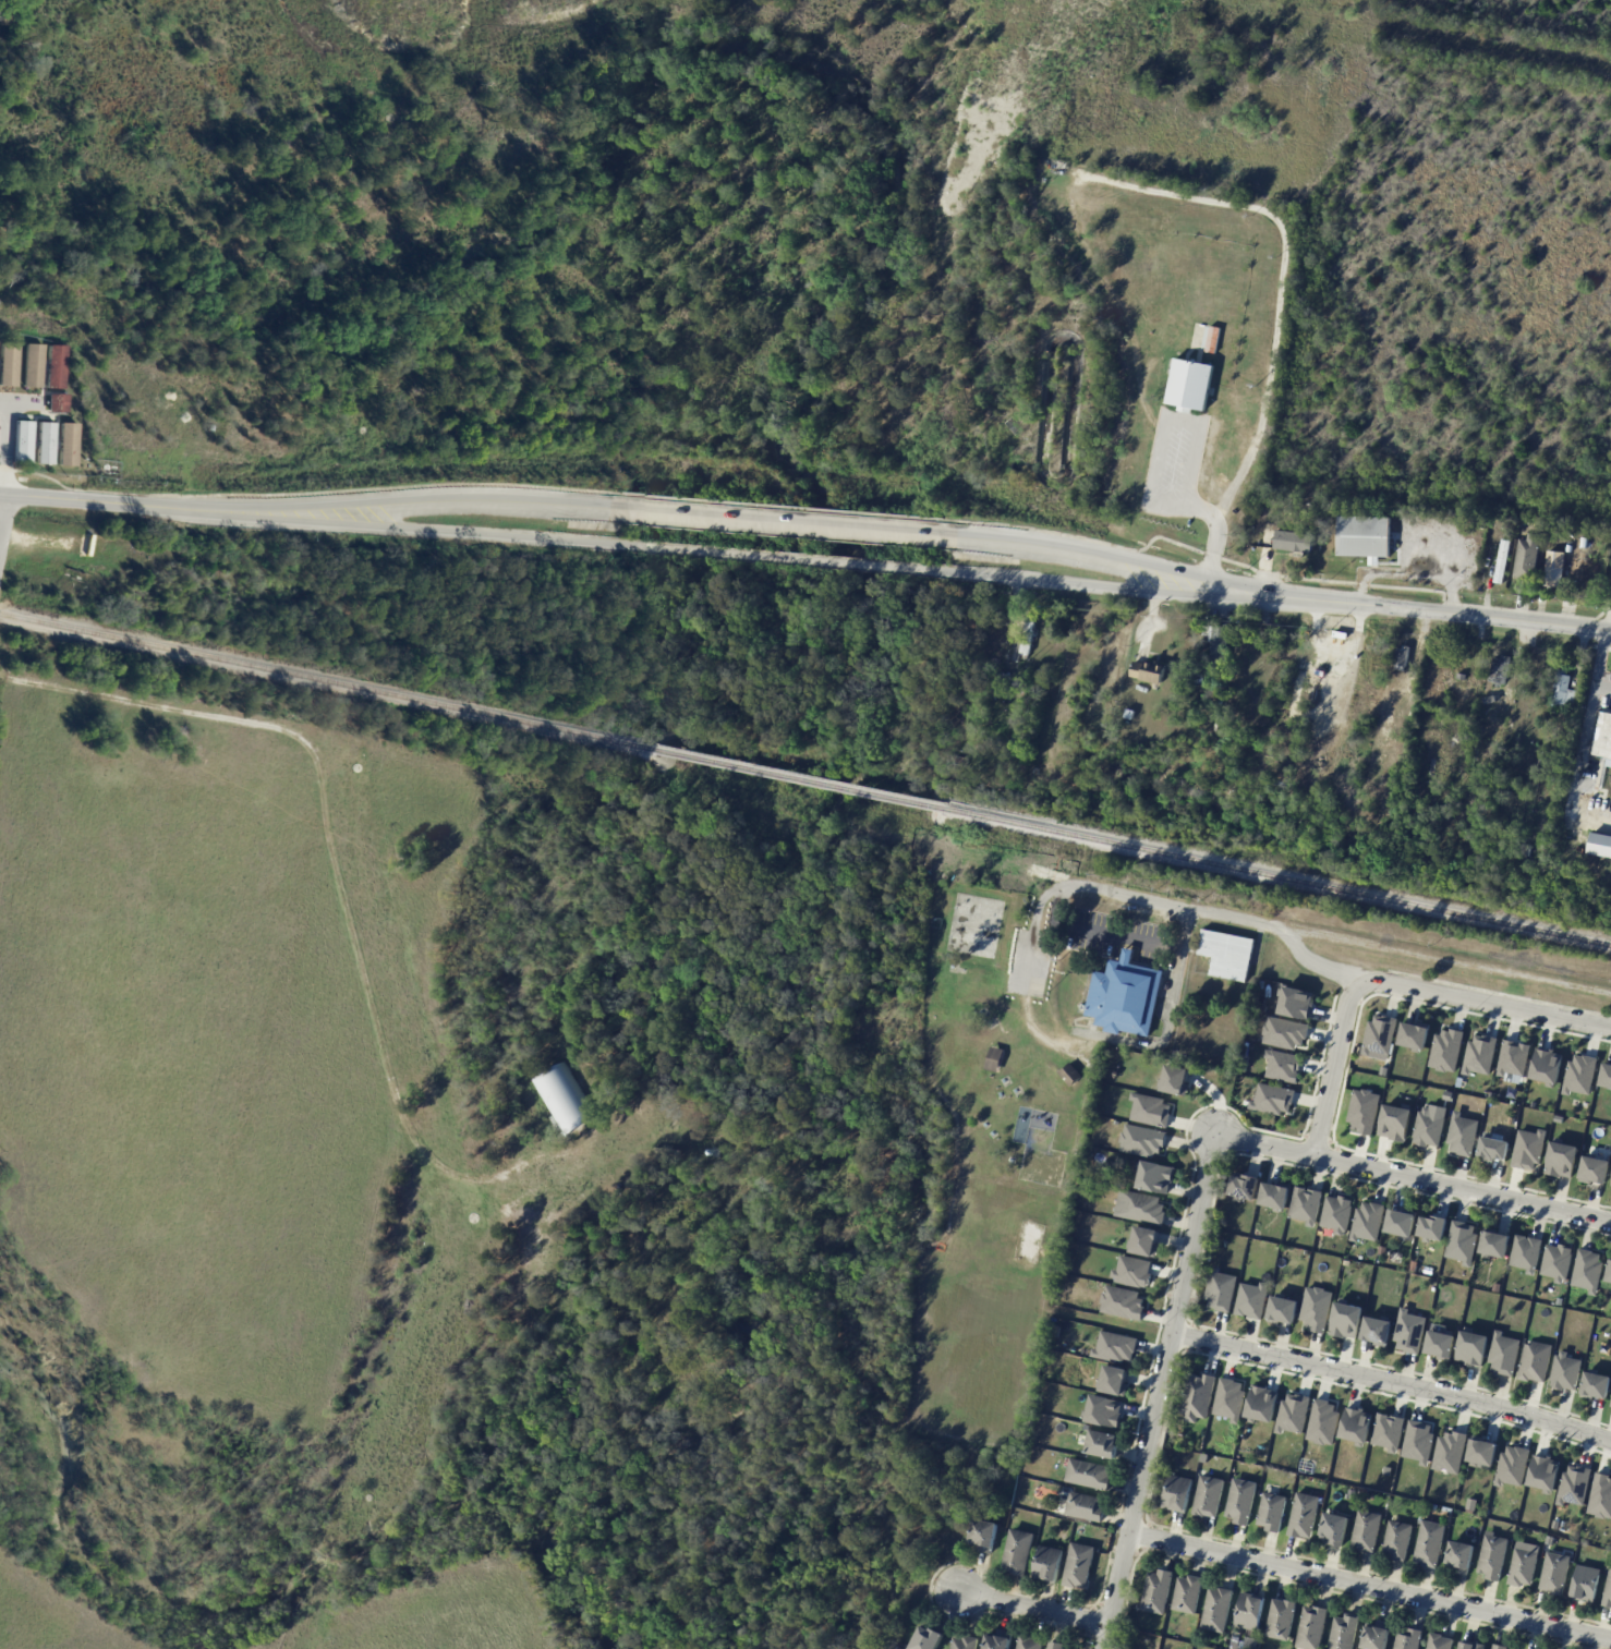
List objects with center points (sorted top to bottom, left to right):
building: (1202, 21)
road: (1481, 40)
building: (1140, 84)
road: (1180, 192)
building: (8, 364)
building: (31, 365)
building: (54, 366)
building: (1188, 384)
building: (57, 402)
building: (1029, 417)
parking lot: (10, 427)
building: (22, 441)
building: (44, 442)
building: (66, 444)
road: (50, 498)
road: (1195, 504)
road: (356, 505)
building: (1292, 506)
building: (1301, 508)
road: (359, 524)
road: (782, 524)
road: (7, 532)
building: (1368, 537)
building: (1296, 543)
building: (1583, 543)
building: (1567, 548)
road: (1070, 554)
building: (1526, 558)
road: (776, 560)
building: (1501, 561)
building: (1551, 569)
road: (1062, 579)
road: (1398, 604)
building: (1030, 636)
building: (1221, 645)
road: (1599, 655)
building: (1403, 658)
building: (1498, 670)
building: (1151, 672)
building: (1461, 677)
railway: (326, 679)
building: (1005, 680)
road: (1601, 687)
building: (1559, 689)
building: (1132, 715)
building: (1212, 723)
building: (1497, 728)
building: (1602, 736)
building: (1549, 748)
building: (959, 762)
road: (1574, 768)
railway: (797, 776)
road: (329, 821)
building: (1474, 832)
building: (1599, 845)
building: (1522, 849)
railway: (1275, 873)
road: (1191, 910)
park: (973, 923)
parking lot: (1117, 934)
road: (1123, 937)
building: (1228, 954)
parking lot: (1029, 960)
road: (1446, 962)
building: (1127, 995)
road: (1485, 1001)
building: (1298, 1003)
road: (1165, 1020)
building: (1286, 1032)
building: (1416, 1036)
building: (1381, 1038)
building: (1448, 1051)
building: (1481, 1055)
building: (996, 1057)
building: (1515, 1058)
building: (1284, 1065)
building: (1548, 1066)
road: (1331, 1067)
building: (1073, 1072)
building: (1583, 1075)
building: (1607, 1076)
building: (1177, 1080)
building: (562, 1099)
building: (1274, 1099)
building: (1152, 1110)
building: (1366, 1111)
building: (1396, 1123)
building: (1431, 1126)
building: (1465, 1133)
building: (1144, 1140)
building: (1494, 1149)
building: (1530, 1149)
park: (994, 1159)
building: (1563, 1160)
building: (1595, 1169)
road: (1413, 1176)
building: (1158, 1177)
building: (1610, 1184)
building: (1246, 1187)
building: (1276, 1197)
building: (1308, 1203)
building: (1142, 1207)
building: (1341, 1212)
building: (1371, 1221)
building: (1405, 1223)
building: (1434, 1227)
building: (1147, 1241)
building: (1464, 1241)
building: (1499, 1244)
building: (1528, 1252)
building: (1559, 1261)
building: (1589, 1270)
building: (1135, 1272)
building: (1610, 1277)
building: (1610, 1283)
building: (1224, 1289)
building: (1255, 1299)
building: (1124, 1302)
building: (1285, 1308)
building: (1319, 1309)
building: (1348, 1319)
building: (1380, 1330)
building: (1412, 1331)
building: (1444, 1344)
building: (1116, 1347)
building: (1475, 1347)
building: (1506, 1354)
building: (1538, 1361)
building: (1567, 1371)
building: (1115, 1381)
road: (1392, 1381)
building: (1597, 1385)
road: (1156, 1391)
building: (1199, 1395)
building: (1232, 1399)
building: (1262, 1404)
building: (1610, 1404)
building: (1106, 1411)
building: (1294, 1414)
building: (1324, 1422)
building: (1358, 1426)
building: (1390, 1432)
building: (1420, 1442)
building: (1104, 1444)
building: (1451, 1452)
building: (1483, 1454)
building: (1206, 1457)
building: (1513, 1466)
building: (1546, 1474)
building: (1090, 1475)
building: (1575, 1486)
building: (1180, 1492)
building: (1211, 1495)
building: (1601, 1496)
building: (1244, 1500)
building: (1088, 1507)
building: (1273, 1511)
building: (1306, 1514)
building: (1336, 1526)
building: (1368, 1530)
building: (985, 1533)
building: (1400, 1539)
building: (1431, 1542)
building: (1019, 1551)
building: (1462, 1555)
building: (1494, 1556)
building: (1050, 1563)
building: (1525, 1563)
building: (1080, 1564)
building: (1557, 1572)
building: (1587, 1583)
road: (1368, 1586)
building: (1160, 1590)
building: (1189, 1593)
building: (1609, 1593)
road: (1031, 1608)
building: (1219, 1609)
building: (1252, 1610)
building: (1283, 1618)
building: (1315, 1627)
building: (1346, 1632)
building: (1378, 1636)
building: (931, 1638)
building: (1410, 1638)
building: (998, 1641)
building: (1441, 1641)
building: (966, 1642)
building: (1031, 1642)
building: (1058, 1645)
building: (1474, 1645)
building: (1502, 1646)

